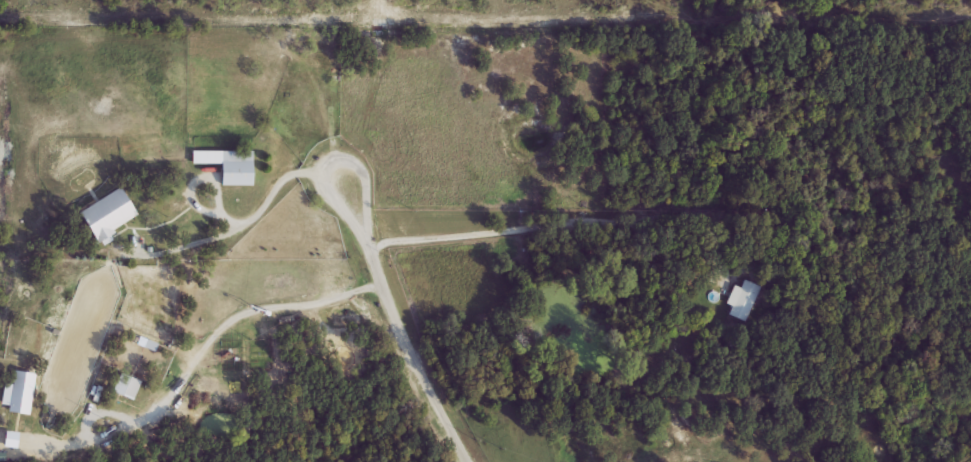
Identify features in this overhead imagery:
building: (229, 165)
building: (108, 214)
road: (236, 222)
road: (549, 226)
building: (741, 301)
road: (399, 324)
road: (199, 354)
building: (125, 386)

